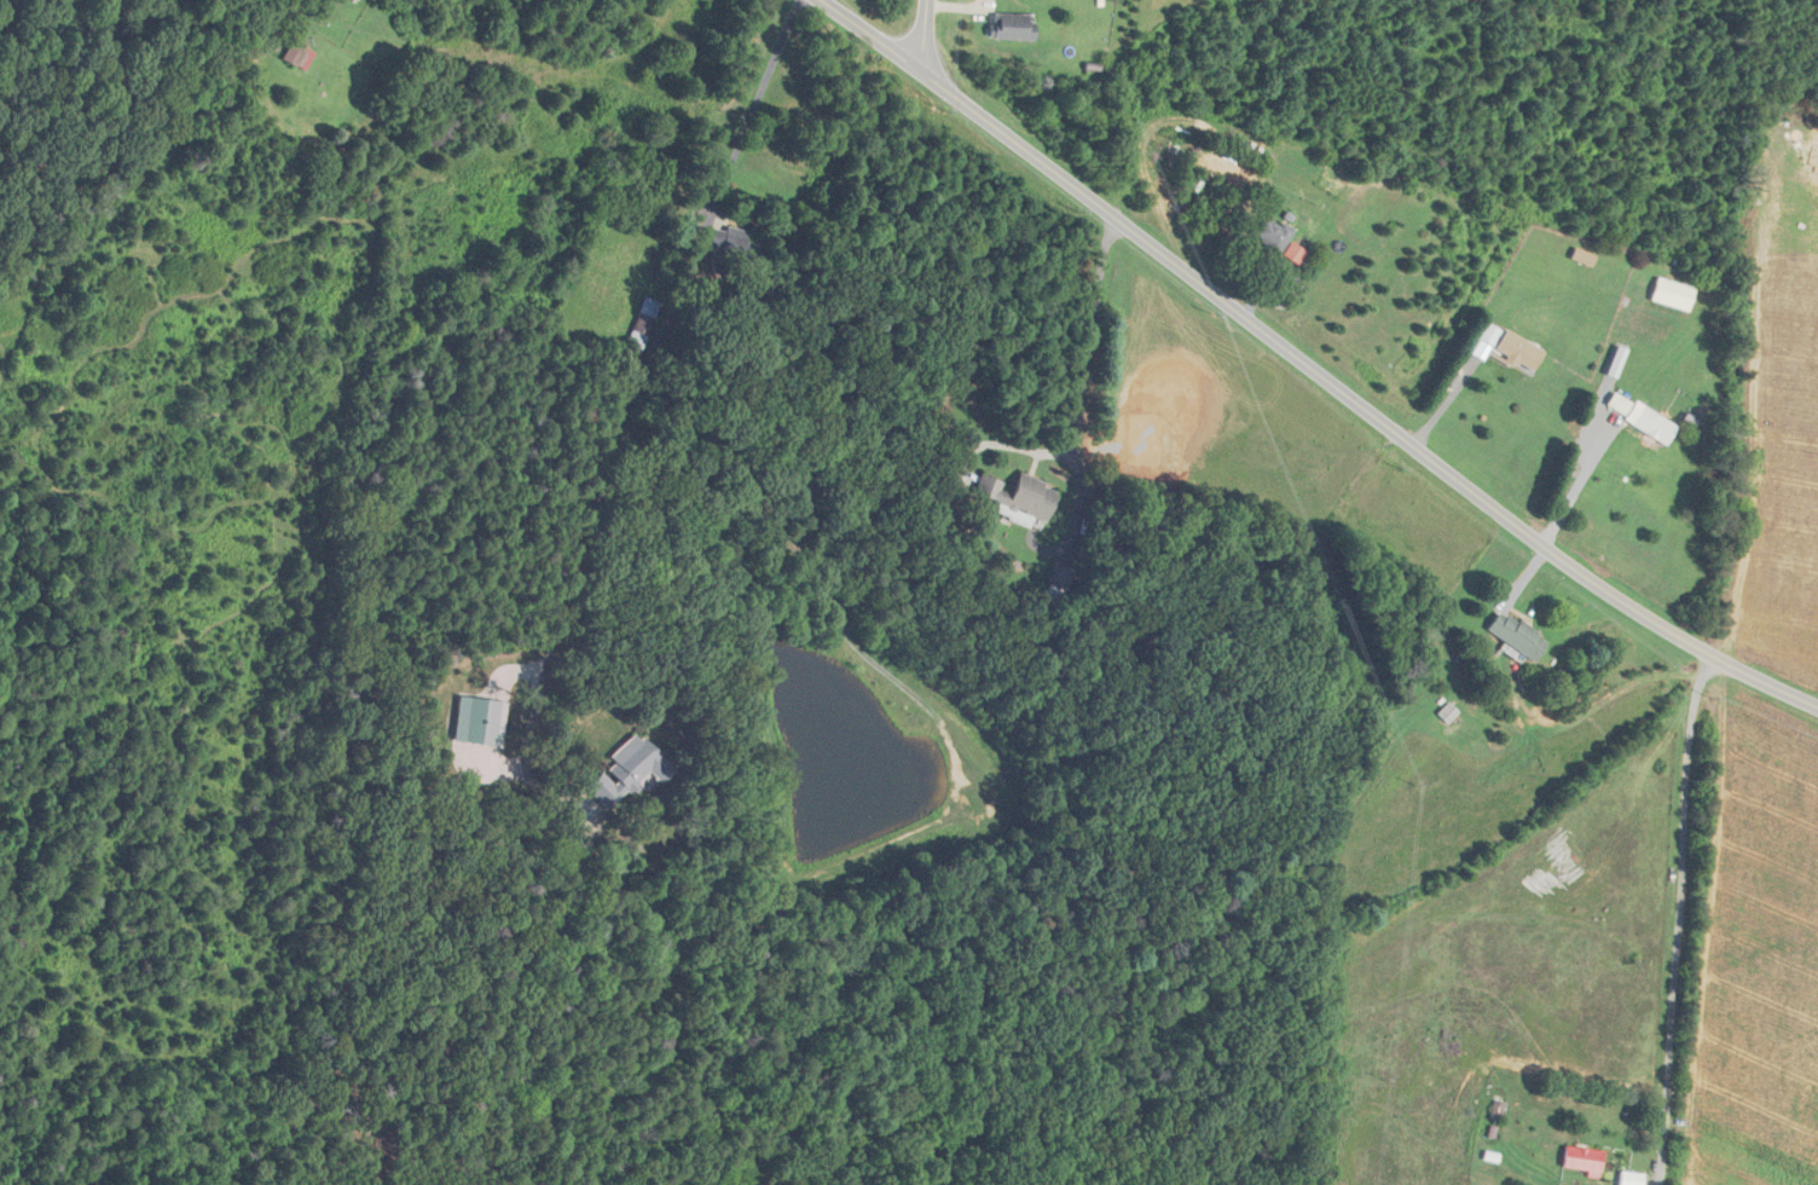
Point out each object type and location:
building: (1012, 25)
road: (926, 33)
building: (293, 47)
building: (1270, 235)
building: (733, 245)
building: (1582, 256)
building: (643, 322)
building: (1511, 345)
road: (1312, 366)
road: (1449, 398)
road: (1077, 412)
road: (623, 415)
building: (1654, 424)
road: (1002, 443)
road: (1579, 482)
building: (1020, 491)
road: (803, 516)
building: (1060, 574)
building: (1516, 635)
building: (630, 767)
road: (1680, 918)
building: (1498, 1110)
building: (1581, 1158)
building: (1631, 1178)

